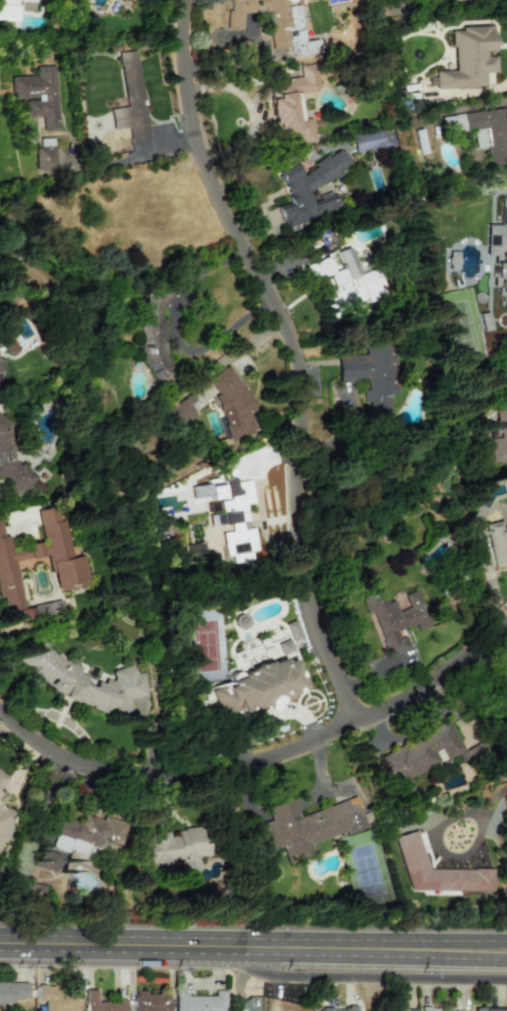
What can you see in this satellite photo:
building: (14, 8)
building: (273, 24)
building: (468, 59)
building: (296, 83)
building: (37, 95)
building: (131, 97)
road: (252, 113)
building: (294, 131)
building: (491, 132)
building: (479, 138)
building: (44, 158)
building: (295, 190)
building: (499, 252)
building: (450, 262)
building: (346, 280)
road: (174, 334)
building: (155, 336)
road: (280, 358)
building: (371, 377)
building: (231, 402)
building: (179, 411)
building: (499, 433)
building: (208, 489)
building: (234, 523)
building: (496, 542)
building: (59, 553)
building: (13, 569)
building: (395, 618)
building: (293, 631)
building: (61, 677)
building: (258, 687)
building: (506, 704)
road: (421, 729)
building: (426, 754)
road: (264, 762)
building: (1, 778)
road: (481, 811)
road: (41, 815)
building: (3, 819)
building: (307, 826)
building: (80, 838)
building: (176, 849)
building: (437, 872)
building: (34, 892)
road: (253, 957)
road: (371, 978)
building: (11, 991)
building: (57, 998)
building: (150, 1001)
building: (200, 1002)
building: (101, 1003)
building: (249, 1004)
building: (336, 1009)
building: (398, 1009)
building: (489, 1009)
building: (438, 1010)

